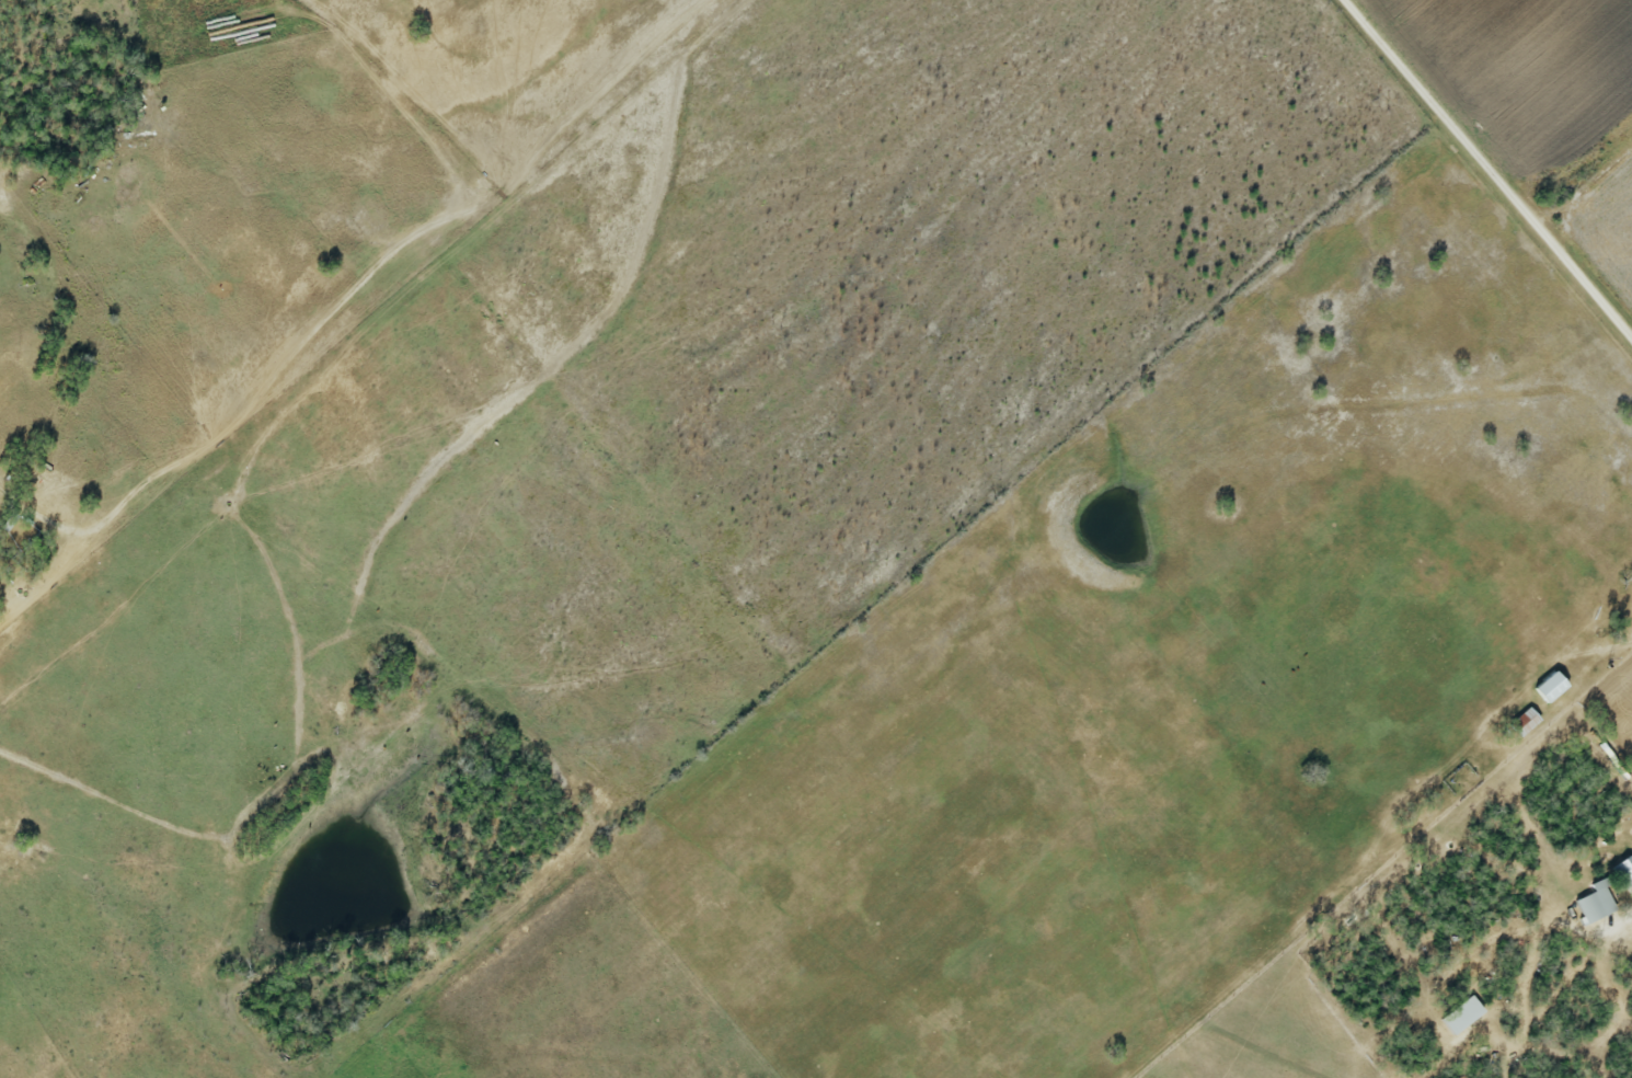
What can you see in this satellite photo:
road: (1487, 170)
building: (1545, 688)
road: (1631, 918)

